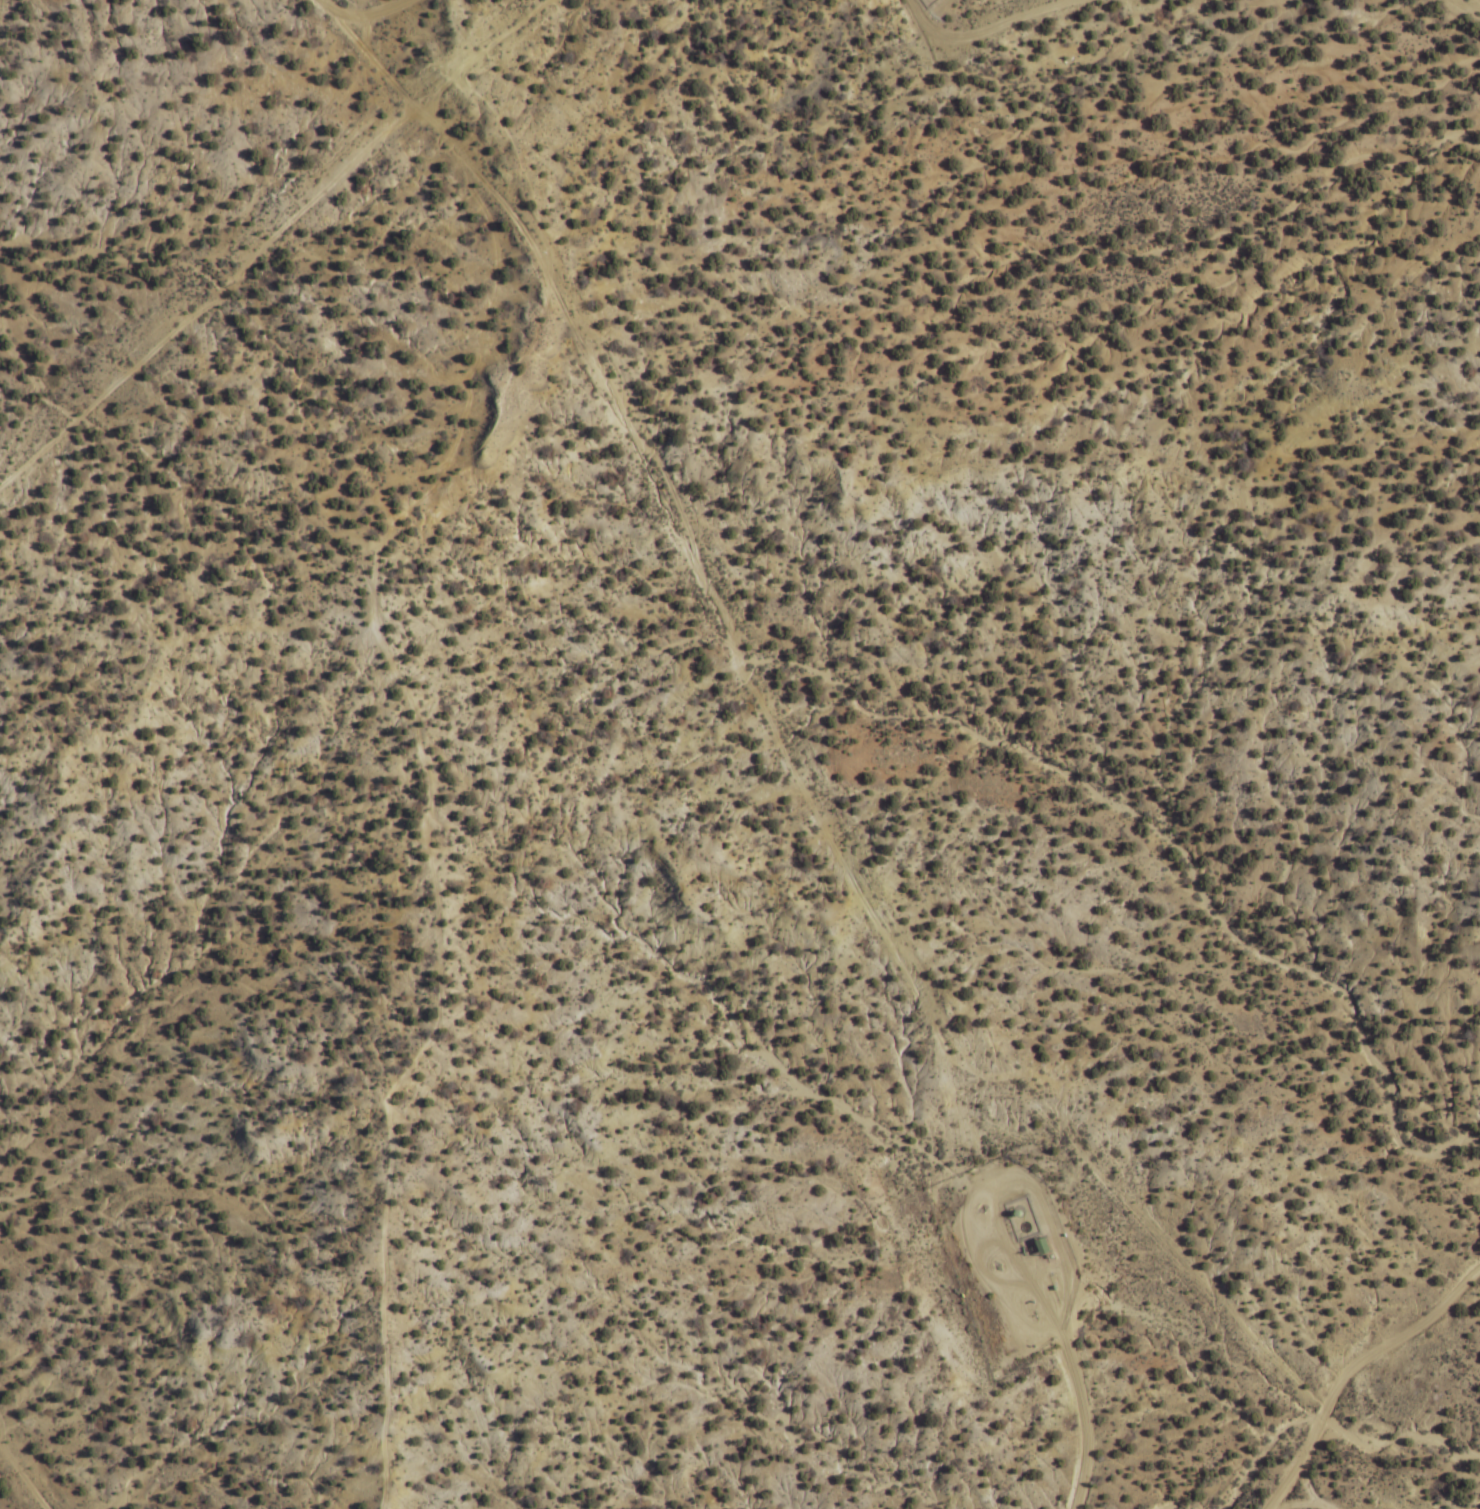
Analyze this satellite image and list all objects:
road: (353, 13)
road: (982, 32)
road: (264, 232)
road: (792, 758)
road: (419, 813)
road: (1060, 1347)
road: (1350, 1368)
road: (21, 1478)
road: (1303, 1483)
road: (1297, 1504)

